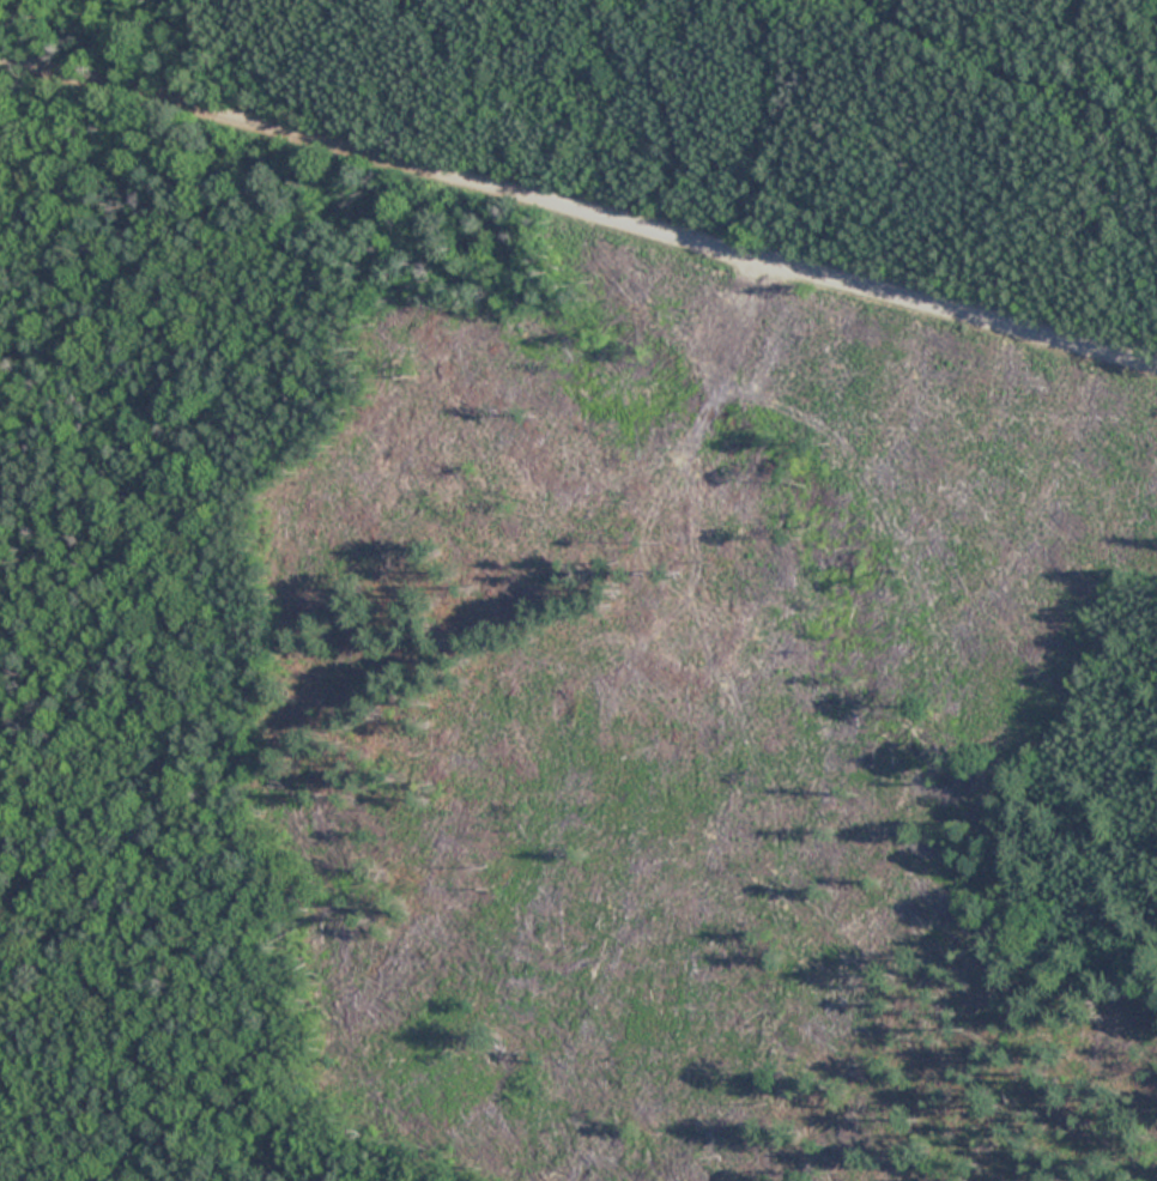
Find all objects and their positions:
road: (578, 208)
park: (578, 590)

